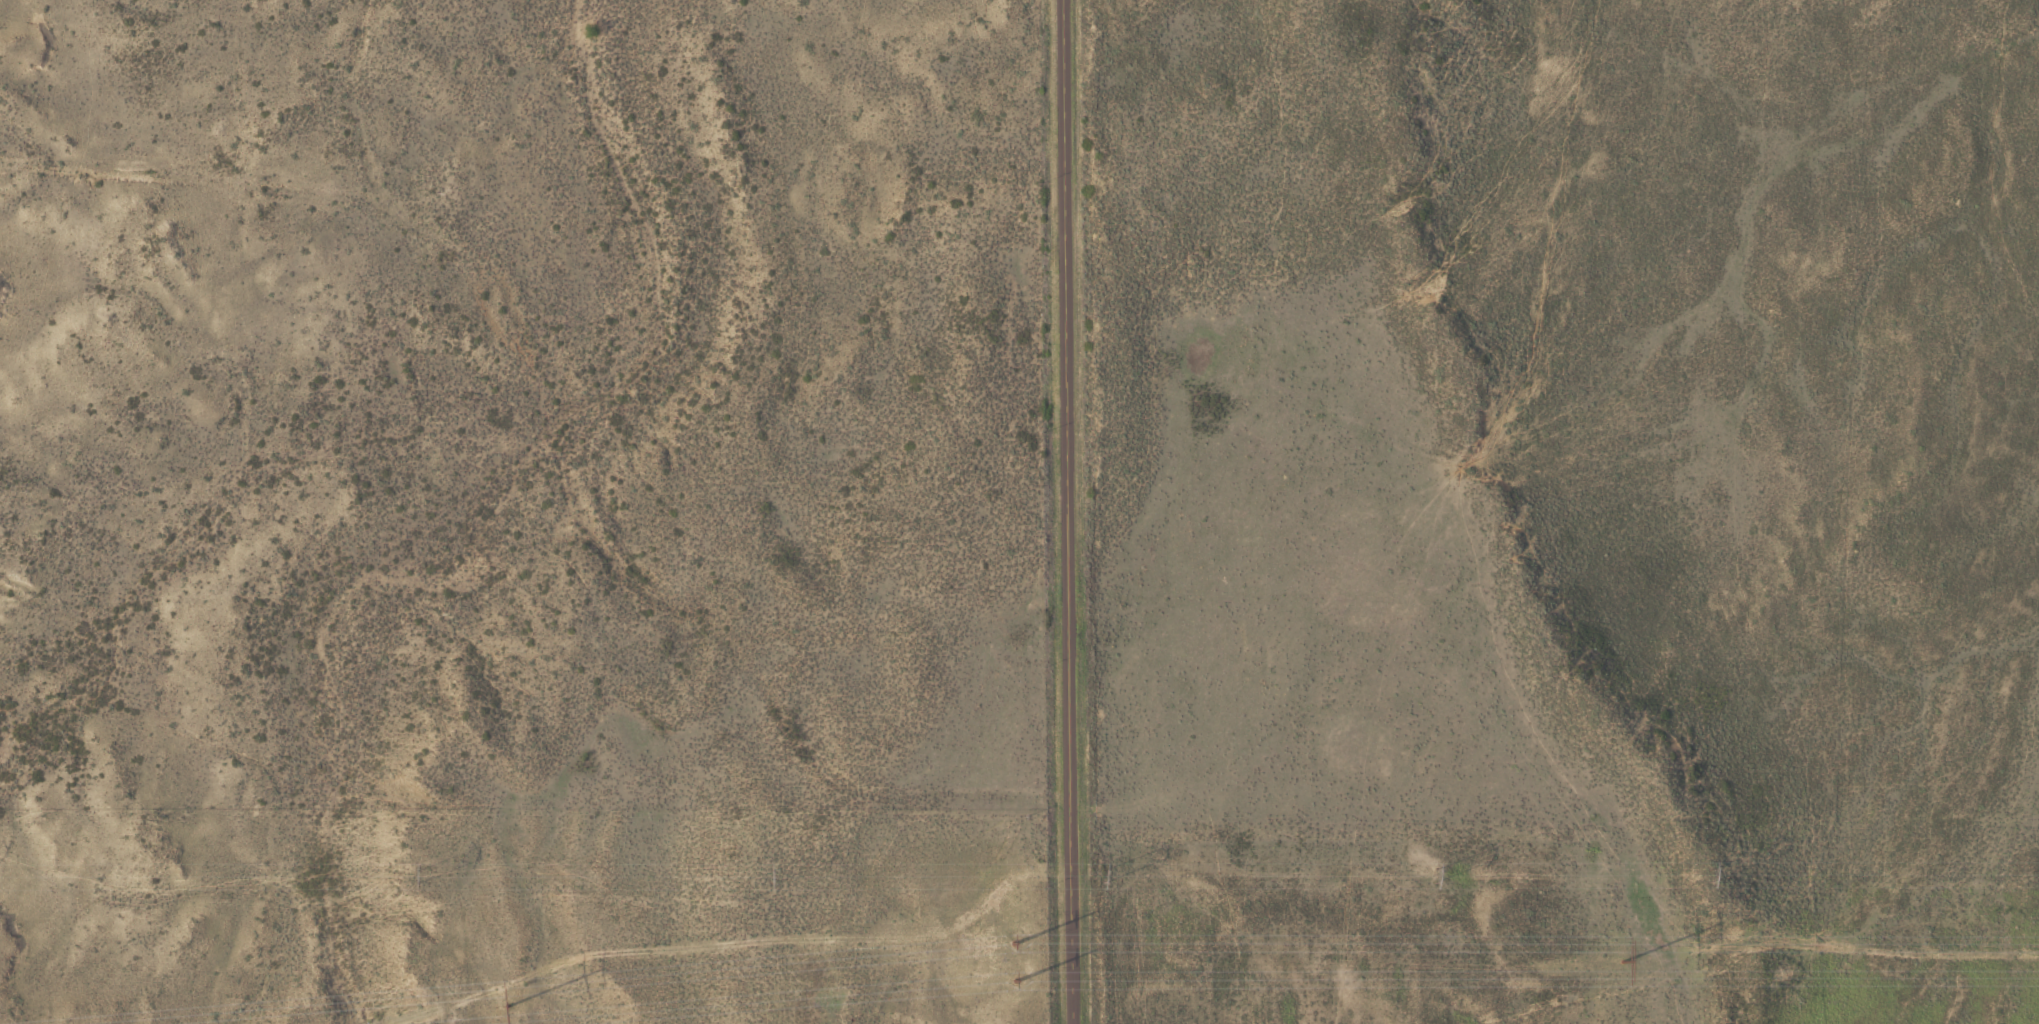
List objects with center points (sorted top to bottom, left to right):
road: (1069, 512)
power tower: (1701, 873)
power tower: (1107, 874)
power tower: (422, 875)
power tower: (772, 875)
power tower: (1429, 875)
power tower: (1014, 959)
power tower: (1622, 960)
power tower: (508, 1004)

